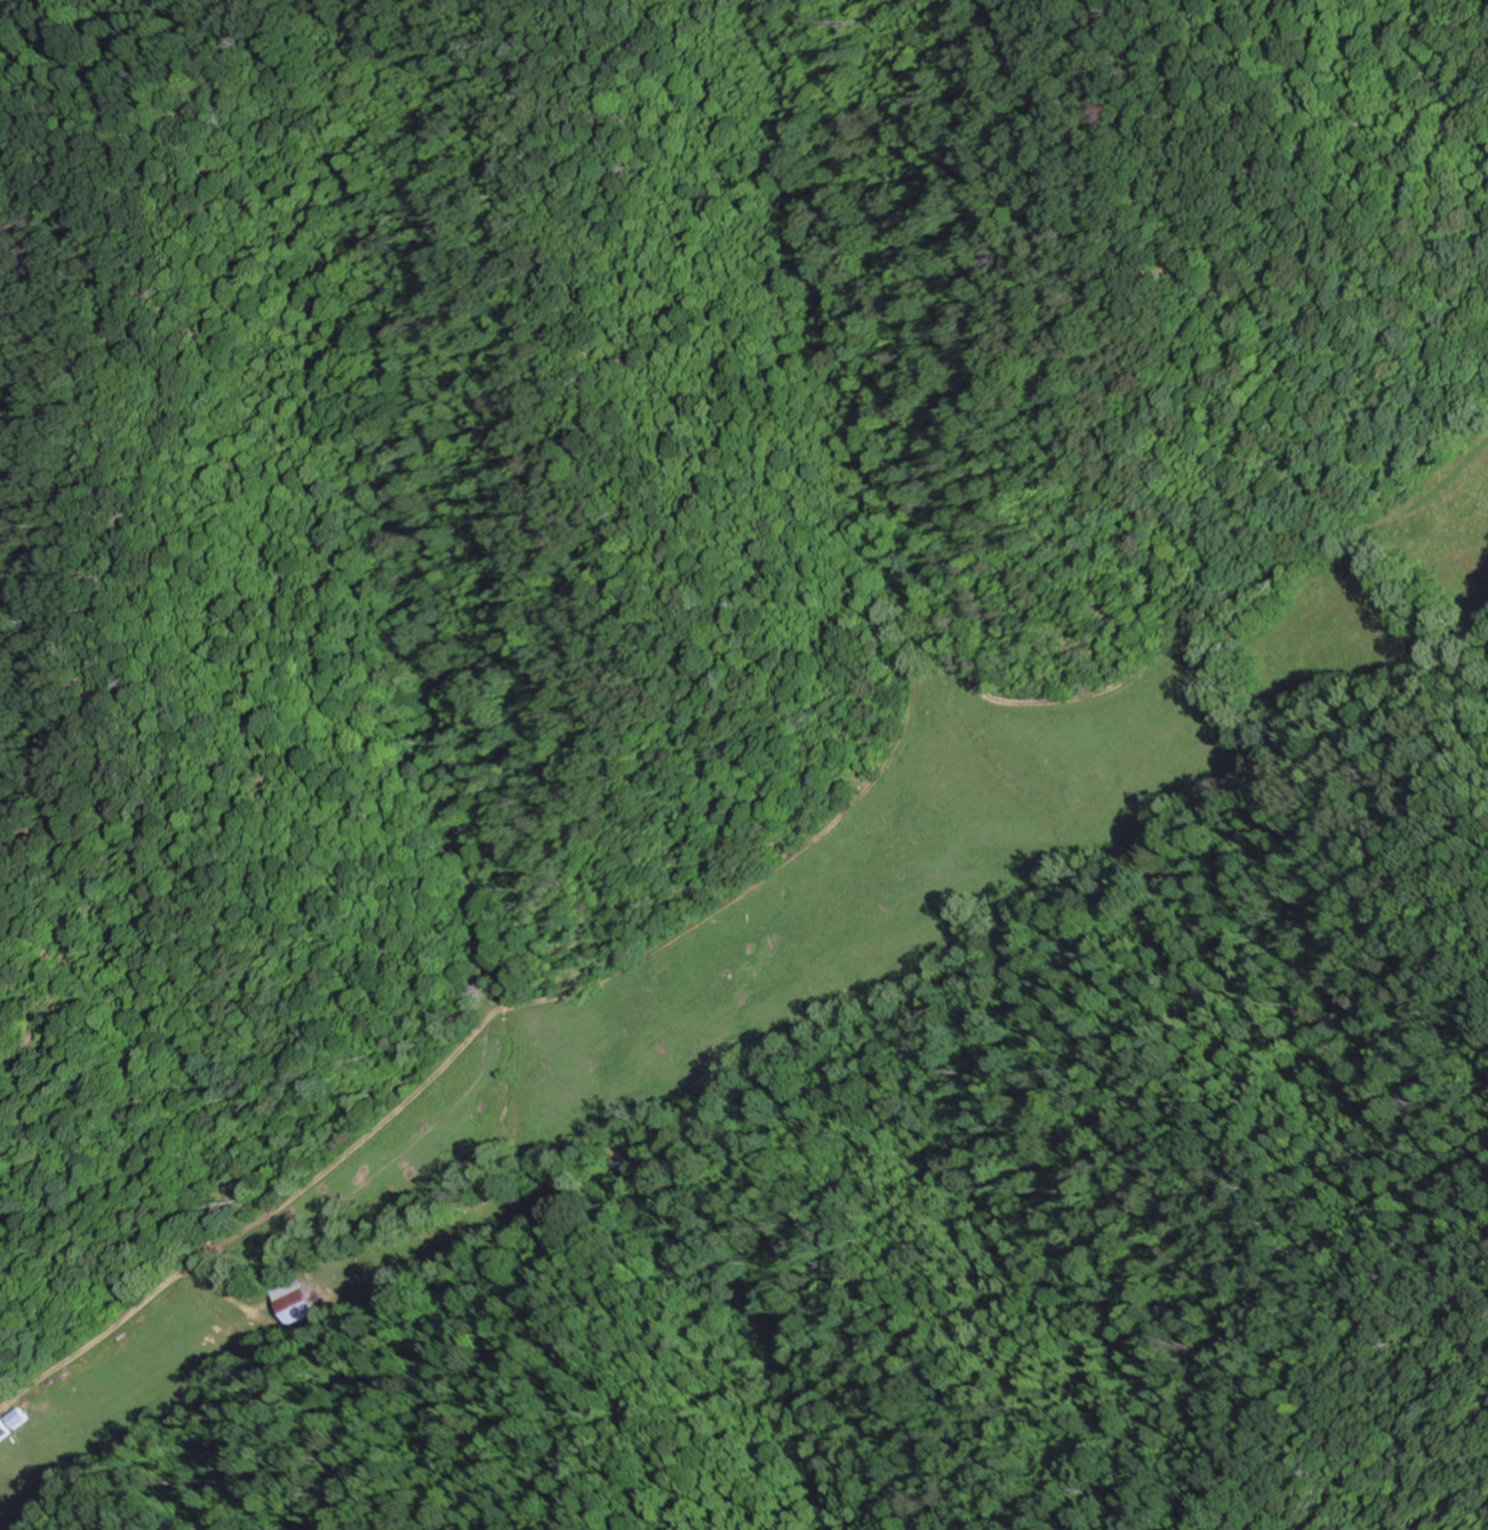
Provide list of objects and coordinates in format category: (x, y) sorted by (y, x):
building: (298, 1299)
building: (18, 1418)
building: (3, 1431)

